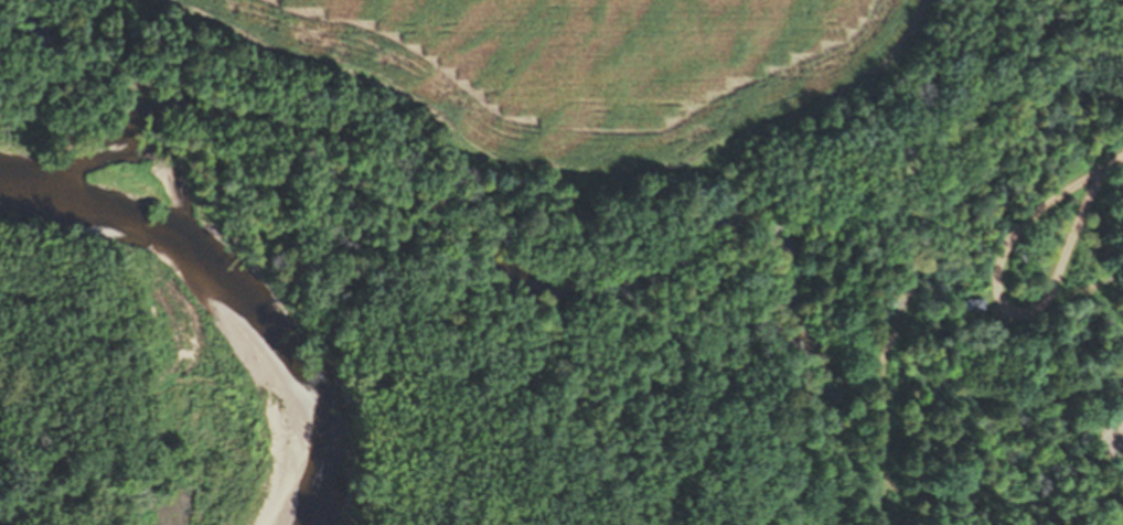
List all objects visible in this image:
crop: (585, 66)
building: (970, 304)
park: (719, 310)
river: (95, 374)

